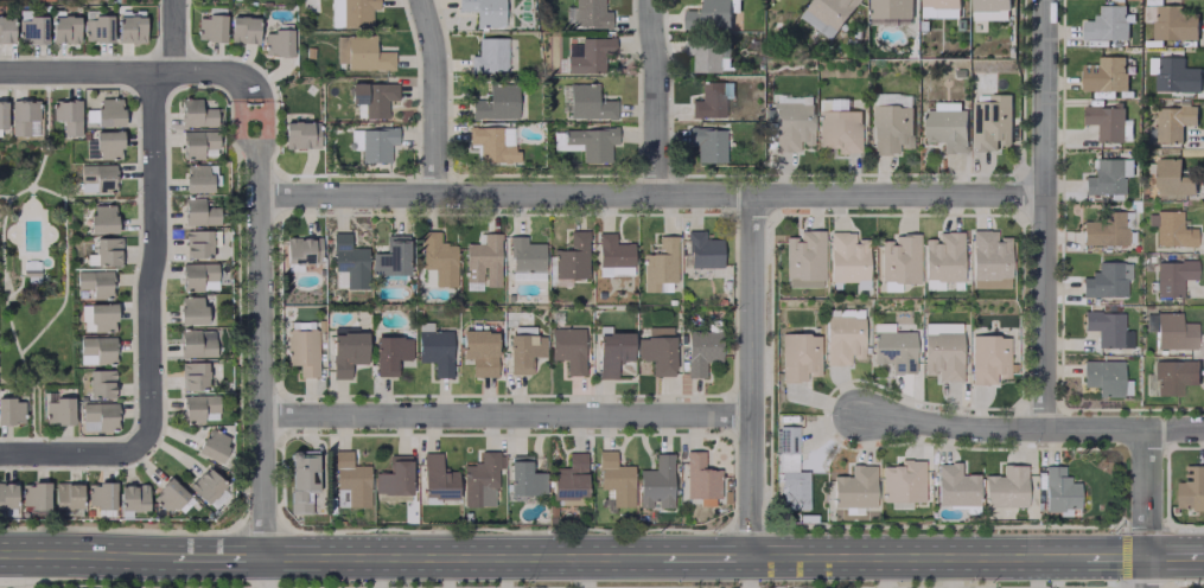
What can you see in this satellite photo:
building: (989, 5)
building: (888, 8)
building: (939, 8)
building: (483, 11)
building: (350, 12)
building: (590, 14)
building: (827, 14)
building: (708, 15)
building: (988, 15)
building: (1107, 24)
building: (129, 26)
building: (1173, 26)
building: (96, 27)
building: (209, 27)
building: (5, 28)
building: (64, 28)
building: (242, 30)
building: (276, 43)
building: (361, 52)
building: (707, 52)
building: (489, 55)
building: (590, 55)
road: (123, 73)
building: (1103, 73)
building: (1174, 75)
road: (23, 85)
road: (127, 89)
road: (249, 92)
road: (437, 96)
road: (657, 96)
building: (372, 97)
building: (709, 98)
building: (587, 102)
building: (496, 103)
building: (832, 104)
building: (108, 111)
building: (2, 114)
building: (195, 114)
building: (66, 115)
building: (23, 117)
building: (989, 122)
building: (1107, 122)
building: (1172, 122)
building: (791, 126)
building: (945, 127)
building: (890, 128)
road: (253, 130)
building: (839, 130)
building: (300, 134)
building: (197, 142)
building: (372, 142)
building: (586, 142)
building: (107, 143)
building: (492, 143)
building: (707, 143)
building: (1107, 175)
building: (96, 178)
building: (198, 178)
building: (1171, 179)
road: (651, 193)
road: (6, 196)
road: (4, 199)
road: (97, 199)
building: (198, 211)
road: (1047, 213)
building: (101, 218)
road: (153, 218)
building: (1106, 229)
building: (1172, 229)
building: (199, 242)
building: (301, 250)
building: (702, 250)
building: (106, 251)
building: (613, 254)
building: (524, 255)
building: (390, 256)
building: (571, 256)
building: (942, 256)
building: (437, 257)
building: (845, 257)
building: (803, 258)
building: (898, 258)
building: (987, 260)
building: (349, 261)
building: (482, 262)
building: (658, 266)
building: (197, 276)
building: (1172, 276)
building: (1106, 280)
road: (63, 282)
building: (94, 282)
building: (190, 309)
building: (847, 313)
building: (100, 317)
building: (1107, 328)
building: (1173, 332)
building: (841, 339)
building: (195, 343)
building: (523, 347)
building: (567, 347)
building: (434, 349)
building: (657, 349)
building: (96, 350)
building: (893, 350)
building: (301, 351)
building: (478, 351)
building: (701, 351)
building: (346, 352)
building: (612, 352)
building: (389, 353)
building: (798, 356)
building: (942, 356)
road: (261, 357)
building: (988, 358)
building: (192, 375)
road: (753, 375)
building: (1173, 376)
building: (1104, 377)
building: (100, 383)
building: (198, 408)
building: (11, 411)
building: (58, 411)
road: (508, 414)
building: (97, 416)
road: (1030, 428)
road: (17, 437)
building: (785, 440)
building: (212, 445)
road: (34, 452)
road: (70, 453)
building: (394, 477)
building: (524, 477)
building: (699, 477)
building: (301, 478)
building: (437, 478)
building: (568, 478)
building: (351, 479)
building: (479, 479)
building: (614, 479)
building: (902, 481)
building: (656, 482)
building: (205, 485)
building: (954, 485)
building: (1005, 486)
building: (854, 487)
building: (1191, 488)
building: (792, 490)
building: (1058, 491)
building: (7, 494)
building: (33, 494)
building: (100, 494)
building: (65, 496)
building: (168, 496)
building: (132, 497)
road: (1142, 507)
road: (79, 552)
road: (211, 556)
road: (458, 556)
road: (702, 556)
road: (915, 556)
road: (1110, 556)
road: (1172, 556)
road: (1202, 556)
road: (260, 571)
road: (374, 571)

